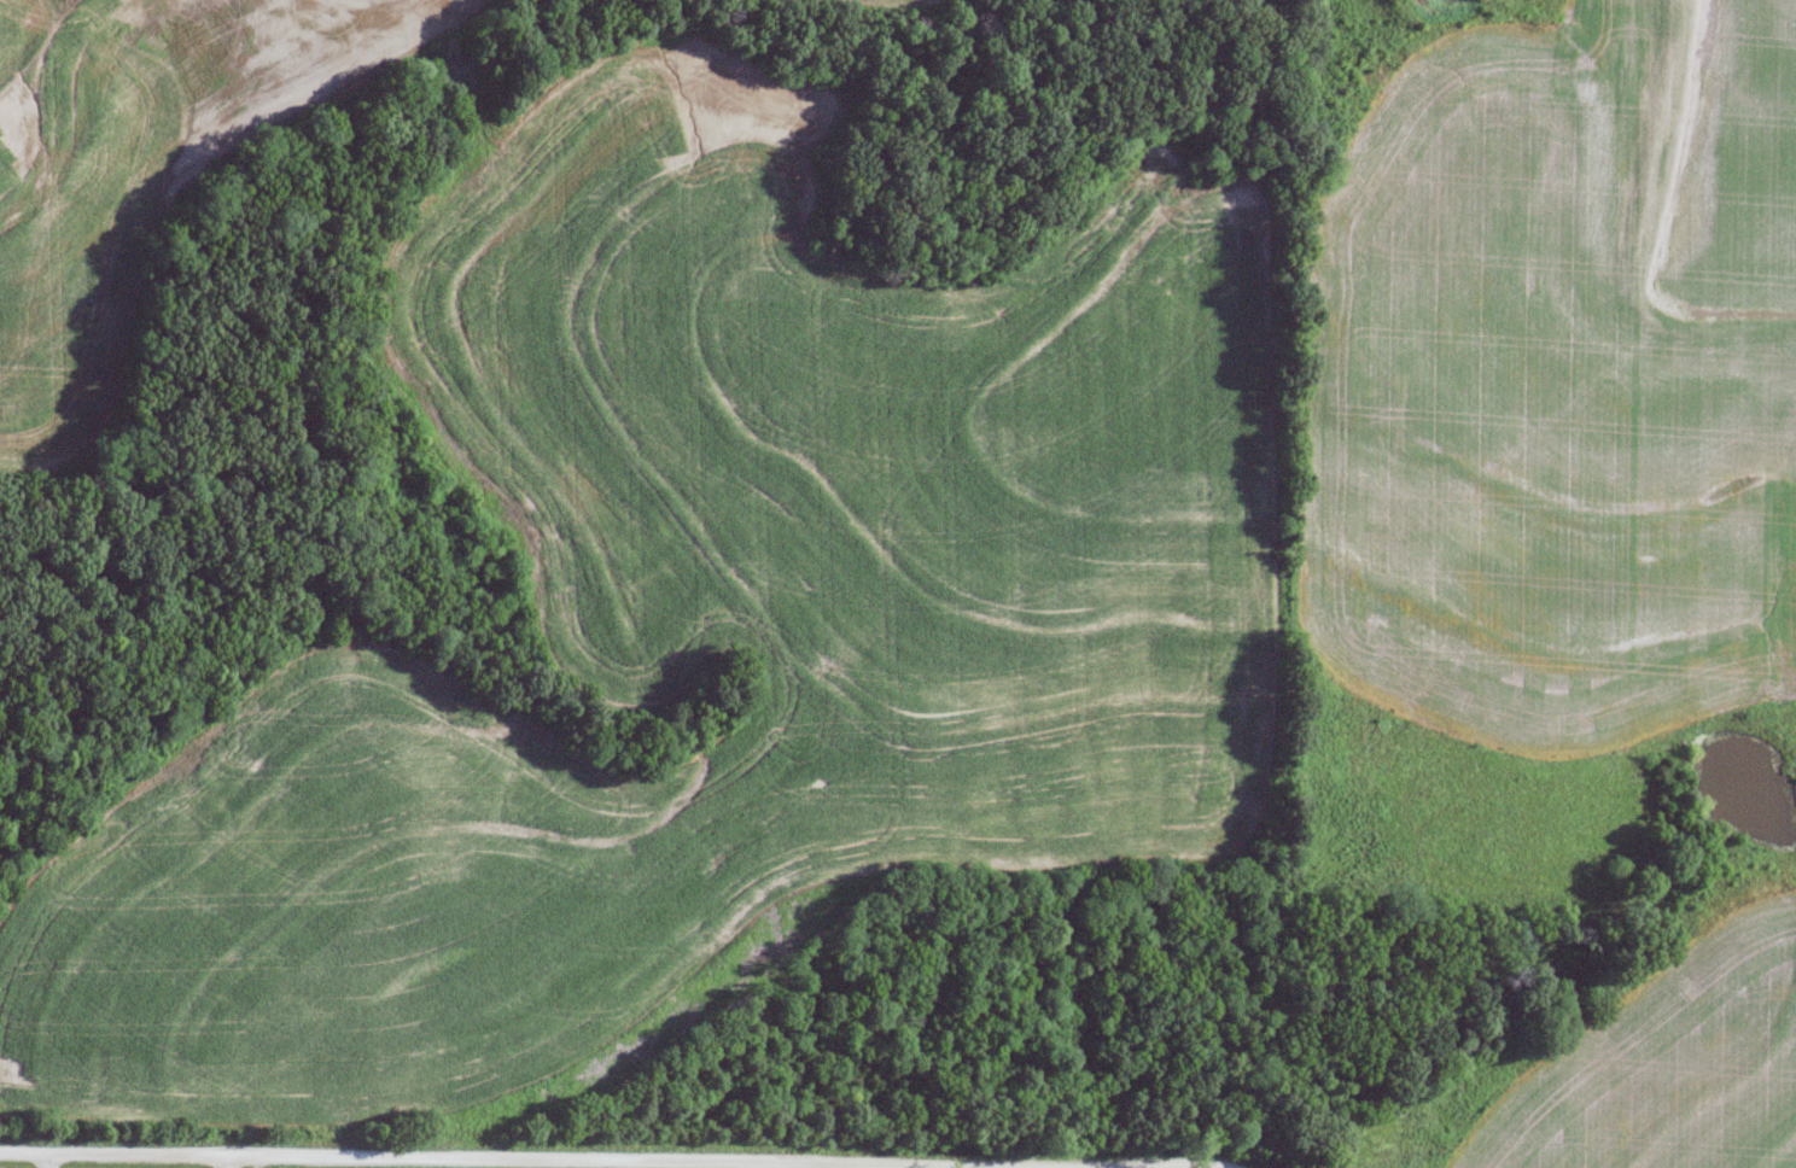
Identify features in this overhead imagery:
road: (610, 1158)
road: (46, 1160)
road: (221, 1161)

